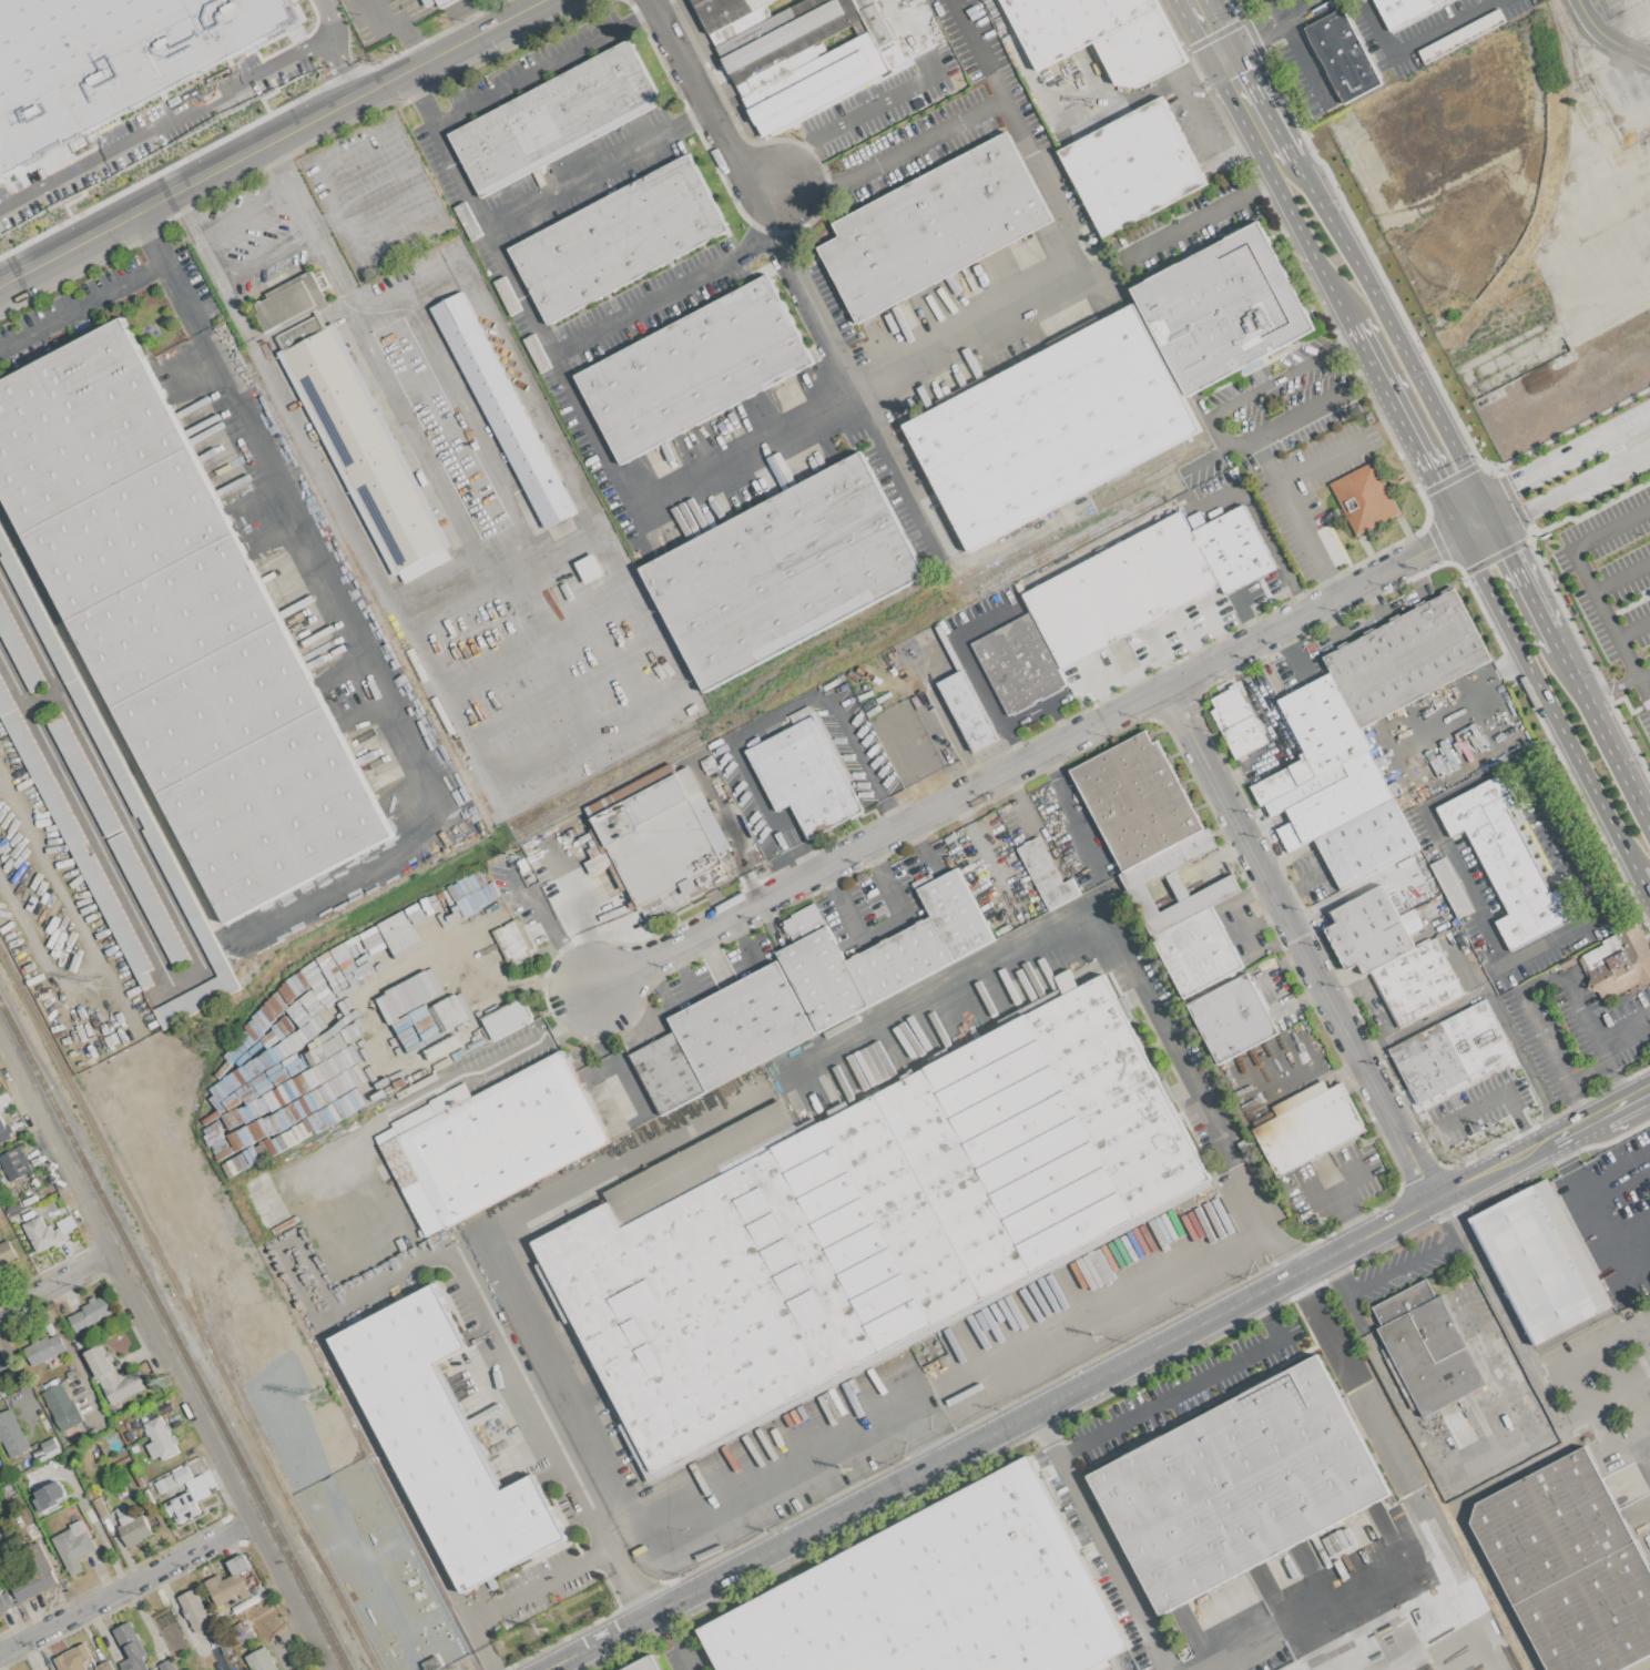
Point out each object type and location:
road: (653, 1)
building: (438, 2)
road: (1279, 10)
road: (1303, 10)
building: (1405, 10)
road: (646, 17)
road: (401, 27)
road: (1203, 27)
road: (1377, 28)
road: (1445, 28)
road: (1638, 33)
building: (1100, 34)
building: (1461, 35)
road: (1607, 37)
road: (1250, 38)
road: (978, 49)
road: (333, 51)
building: (797, 51)
traffic signals: (1216, 55)
building: (1342, 55)
building: (110, 60)
road: (1305, 63)
road: (1198, 68)
road: (1131, 96)
road: (420, 98)
road: (483, 99)
road: (1239, 99)
road: (704, 101)
road: (880, 103)
building: (554, 118)
road: (1198, 118)
road: (690, 119)
road: (166, 125)
road: (273, 142)
road: (1235, 142)
road: (1286, 146)
building: (1132, 167)
road: (814, 184)
road: (1262, 185)
road: (287, 187)
road: (243, 214)
road: (771, 220)
road: (1191, 224)
building: (933, 226)
road: (196, 236)
road: (1300, 236)
building: (618, 237)
road: (149, 238)
road: (755, 245)
road: (263, 254)
road: (329, 268)
road: (519, 293)
building: (292, 301)
building: (1223, 308)
road: (821, 325)
road: (1395, 340)
road: (1347, 344)
road: (951, 353)
building: (694, 368)
road: (518, 370)
road: (1368, 378)
building: (502, 409)
road: (462, 411)
building: (1051, 428)
road: (1404, 428)
building: (1512, 428)
road: (1642, 432)
road: (1216, 435)
road: (1642, 439)
road: (417, 448)
building: (364, 449)
road: (1606, 452)
road: (1210, 457)
road: (257, 461)
road: (1315, 464)
traffic signals: (1433, 482)
road: (1534, 491)
building: (1364, 498)
traffic signals: (1517, 501)
road: (1290, 507)
road: (1475, 523)
road: (1262, 527)
road: (1611, 529)
building: (1548, 544)
traffic signals: (1433, 546)
building: (1234, 549)
traffic signals: (1510, 554)
building: (589, 569)
building: (783, 570)
road: (516, 577)
road: (1622, 577)
road: (1524, 582)
road: (1333, 585)
building: (1019, 587)
building: (1120, 589)
road: (448, 610)
road: (1606, 613)
building: (180, 624)
road: (1634, 630)
building: (926, 637)
building: (19, 650)
road: (967, 656)
building: (1406, 658)
building: (1019, 663)
road: (1234, 663)
road: (1643, 674)
road: (1489, 679)
building: (74, 686)
road: (1610, 686)
road: (1643, 688)
road: (42, 701)
road: (1546, 702)
building: (967, 711)
road: (777, 721)
road: (1018, 721)
road: (1059, 721)
building: (1236, 722)
road: (949, 729)
road: (1271, 730)
road: (1606, 733)
road: (462, 739)
building: (904, 741)
road: (1029, 757)
road: (1050, 764)
building: (806, 773)
building: (84, 775)
road: (1229, 777)
road: (1014, 783)
building: (1336, 788)
building: (1137, 801)
road: (1029, 811)
road: (1073, 825)
road: (1560, 834)
building: (73, 838)
building: (655, 839)
road: (173, 841)
road: (920, 846)
building: (1507, 859)
building: (1047, 875)
building: (1138, 879)
road: (1643, 883)
building: (1450, 887)
road: (1465, 888)
building: (149, 899)
road: (1241, 914)
road: (879, 929)
building: (1372, 930)
road: (1301, 941)
building: (515, 943)
road: (84, 944)
building: (1196, 951)
road: (196, 955)
building: (1618, 964)
building: (1417, 981)
power tower: (100, 982)
road: (1540, 985)
building: (805, 992)
road: (943, 995)
road: (1281, 1011)
building: (1232, 1018)
building: (507, 1020)
road: (1624, 1029)
road: (1170, 1041)
building: (1467, 1047)
road: (1589, 1076)
road: (1620, 1085)
road: (437, 1087)
road: (1498, 1094)
road: (1577, 1104)
road: (1618, 1109)
building: (1306, 1126)
power tower: (1497, 1128)
road: (1570, 1130)
building: (4, 1131)
road: (1552, 1138)
building: (490, 1141)
road: (1541, 1143)
road: (1562, 1153)
building: (13, 1163)
road: (1618, 1179)
road: (1578, 1183)
road: (1340, 1192)
building: (30, 1200)
building: (13, 1208)
building: (28, 1215)
road: (1349, 1215)
power tower: (1325, 1216)
building: (865, 1219)
road: (1598, 1220)
road: (1263, 1223)
building: (65, 1224)
road: (1630, 1232)
building: (43, 1234)
road: (1456, 1238)
building: (6, 1253)
building: (1540, 1262)
road: (1395, 1270)
road: (1624, 1270)
road: (55, 1282)
road: (1124, 1301)
road: (1262, 1307)
railway: (187, 1310)
building: (90, 1315)
road: (1648, 1324)
railway: (174, 1335)
building: (81, 1343)
building: (1427, 1347)
building: (43, 1350)
road: (165, 1356)
building: (2, 1361)
road: (1575, 1362)
building: (1504, 1374)
building: (113, 1375)
road: (512, 1377)
road: (1389, 1378)
power tower: (166, 1382)
road: (1545, 1383)
building: (2, 1393)
building: (78, 1393)
power tower: (316, 1398)
building: (62, 1407)
building: (164, 1407)
road: (1038, 1408)
road: (1640, 1409)
road: (572, 1415)
building: (143, 1418)
building: (11, 1434)
road: (1043, 1435)
building: (128, 1436)
building: (160, 1439)
building: (441, 1440)
building: (45, 1449)
road: (928, 1449)
road: (1070, 1449)
road: (1628, 1450)
power tower: (848, 1468)
road: (1397, 1472)
building: (173, 1479)
building: (1237, 1484)
building: (91, 1493)
building: (49, 1495)
building: (100, 1507)
building: (182, 1507)
road: (1641, 1509)
road: (90, 1519)
road: (1463, 1521)
building: (132, 1527)
building: (73, 1546)
building: (238, 1565)
building: (1569, 1566)
building: (34, 1575)
road: (125, 1585)
building: (226, 1588)
building: (0, 1590)
road: (631, 1593)
road: (518, 1595)
building: (936, 1595)
building: (6, 1601)
building: (195, 1610)
road: (1298, 1613)
road: (670, 1625)
power tower: (547, 1629)
building: (242, 1636)
building: (131, 1647)
road: (1413, 1647)
road: (684, 1654)
road: (1458, 1654)
building: (73, 1658)
building: (259, 1660)
building: (431, 1663)
building: (166, 1664)
road: (481, 1664)
building: (642, 1664)
building: (104, 1666)
road: (1643, 1666)
building: (151, 1669)

